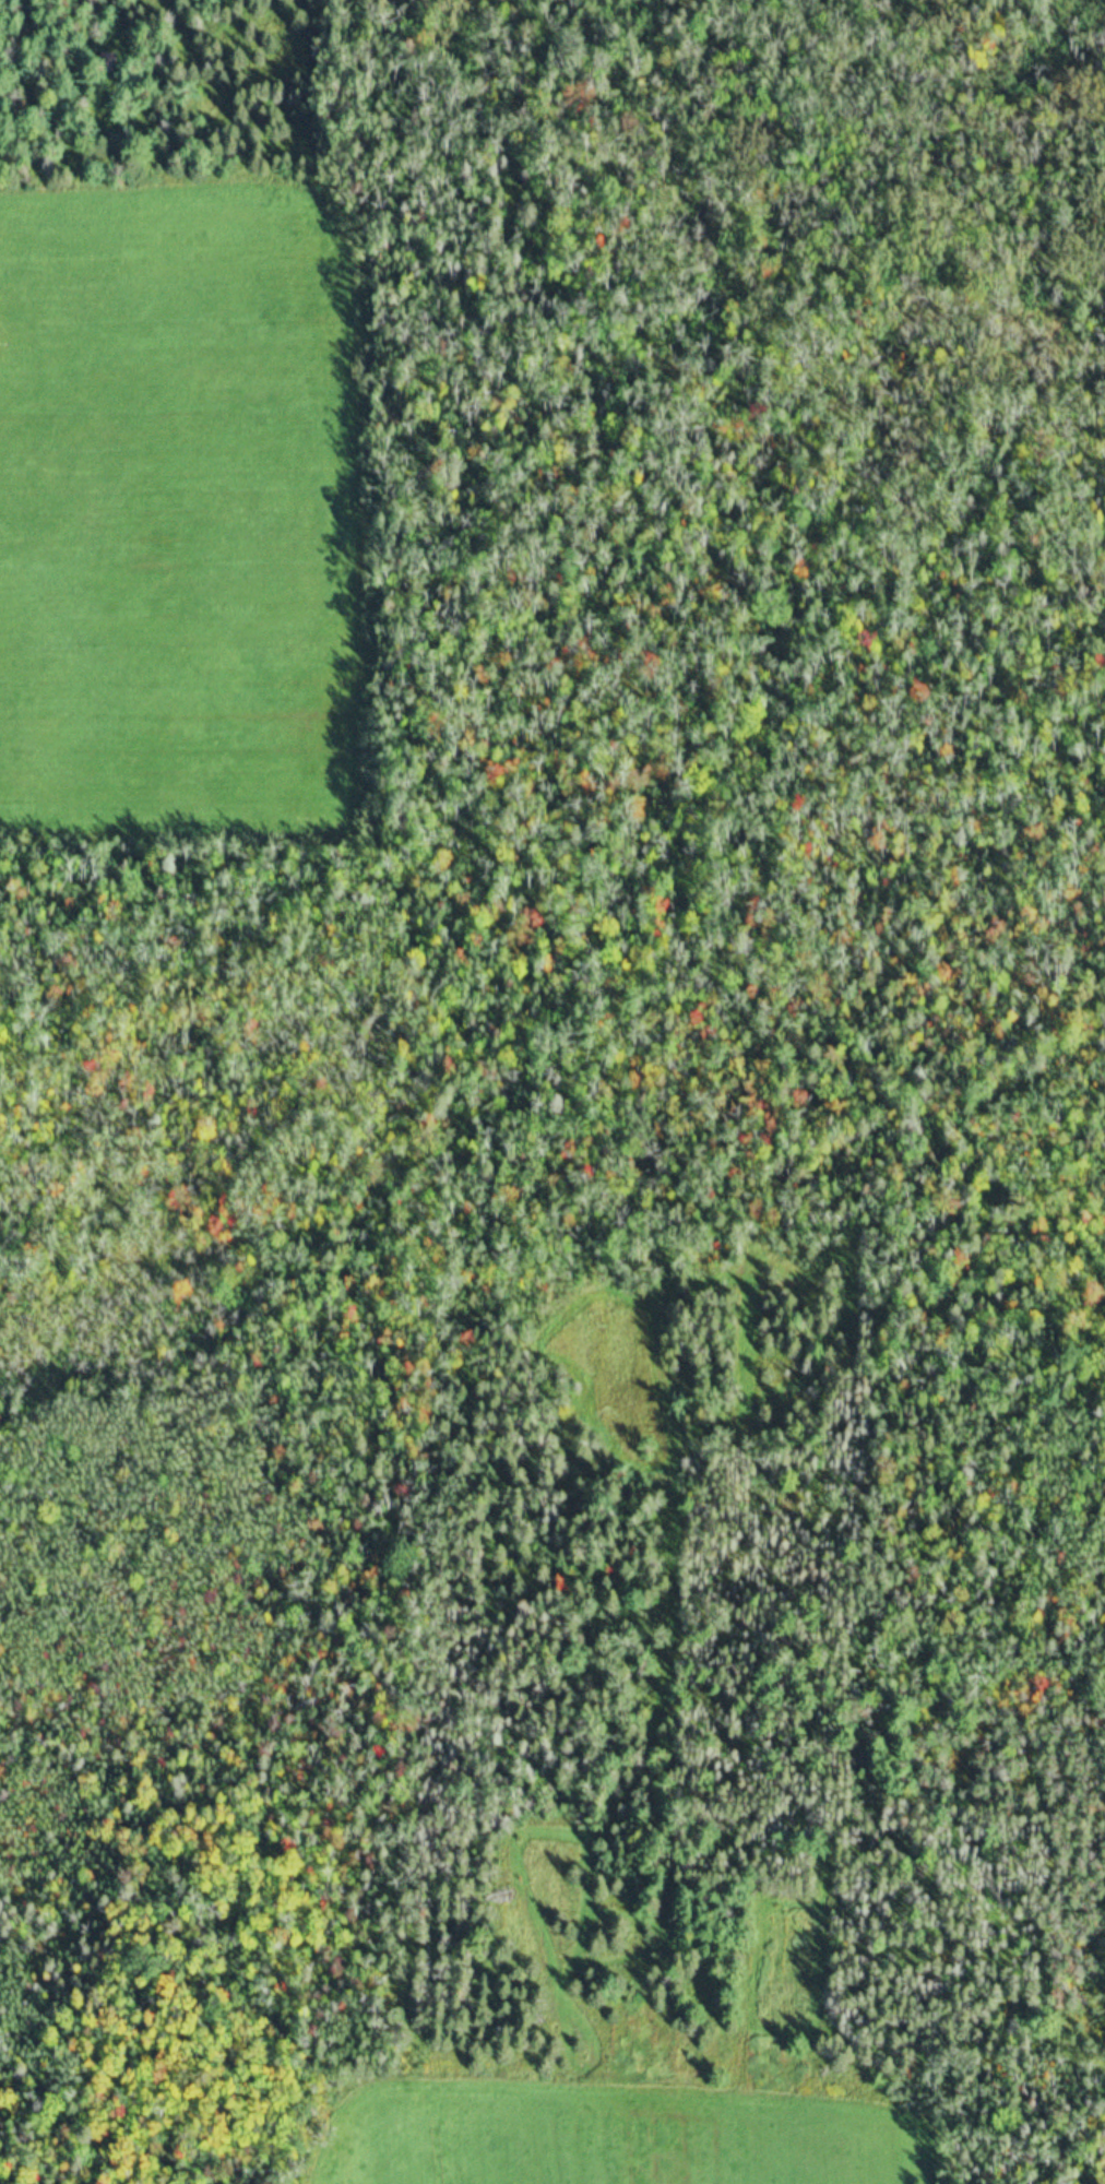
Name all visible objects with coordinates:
building: (104, 64)

